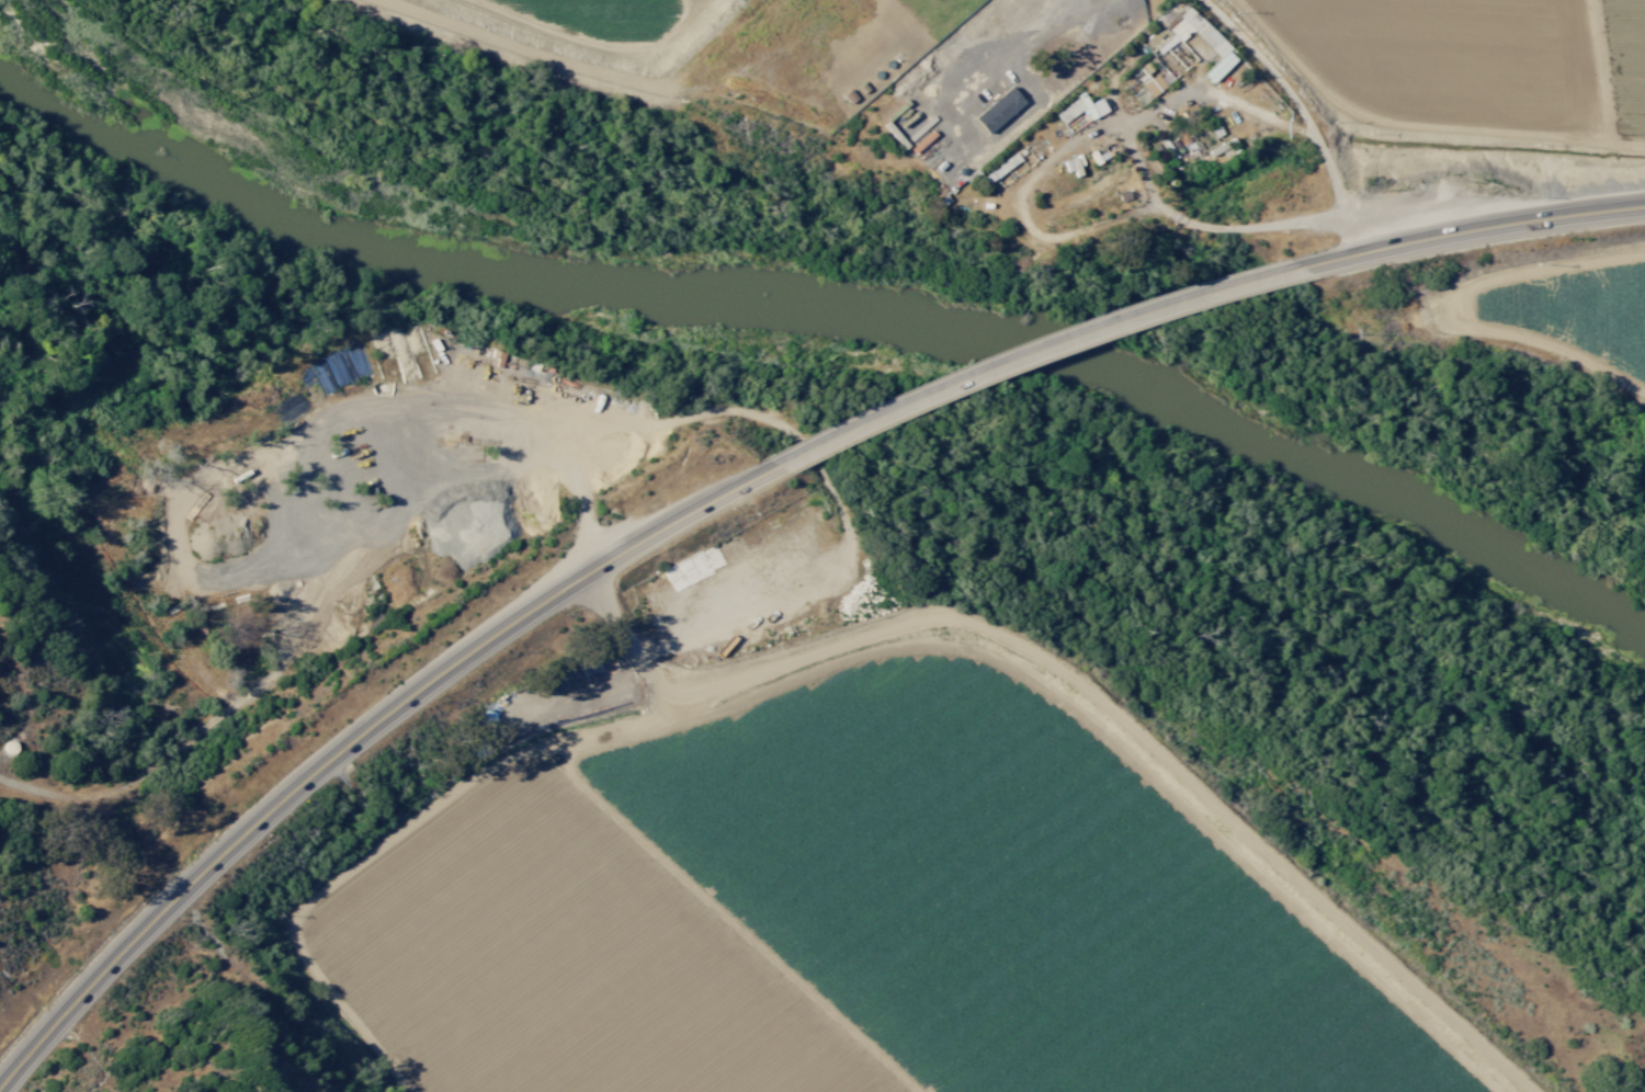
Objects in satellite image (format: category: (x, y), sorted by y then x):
crop: (536, 19)
crop: (1486, 60)
building: (1150, 81)
building: (997, 109)
building: (1079, 109)
road: (1286, 124)
building: (1185, 144)
building: (1000, 167)
road: (1471, 223)
crop: (1577, 321)
road: (1034, 349)
road: (355, 731)
crop: (838, 879)

